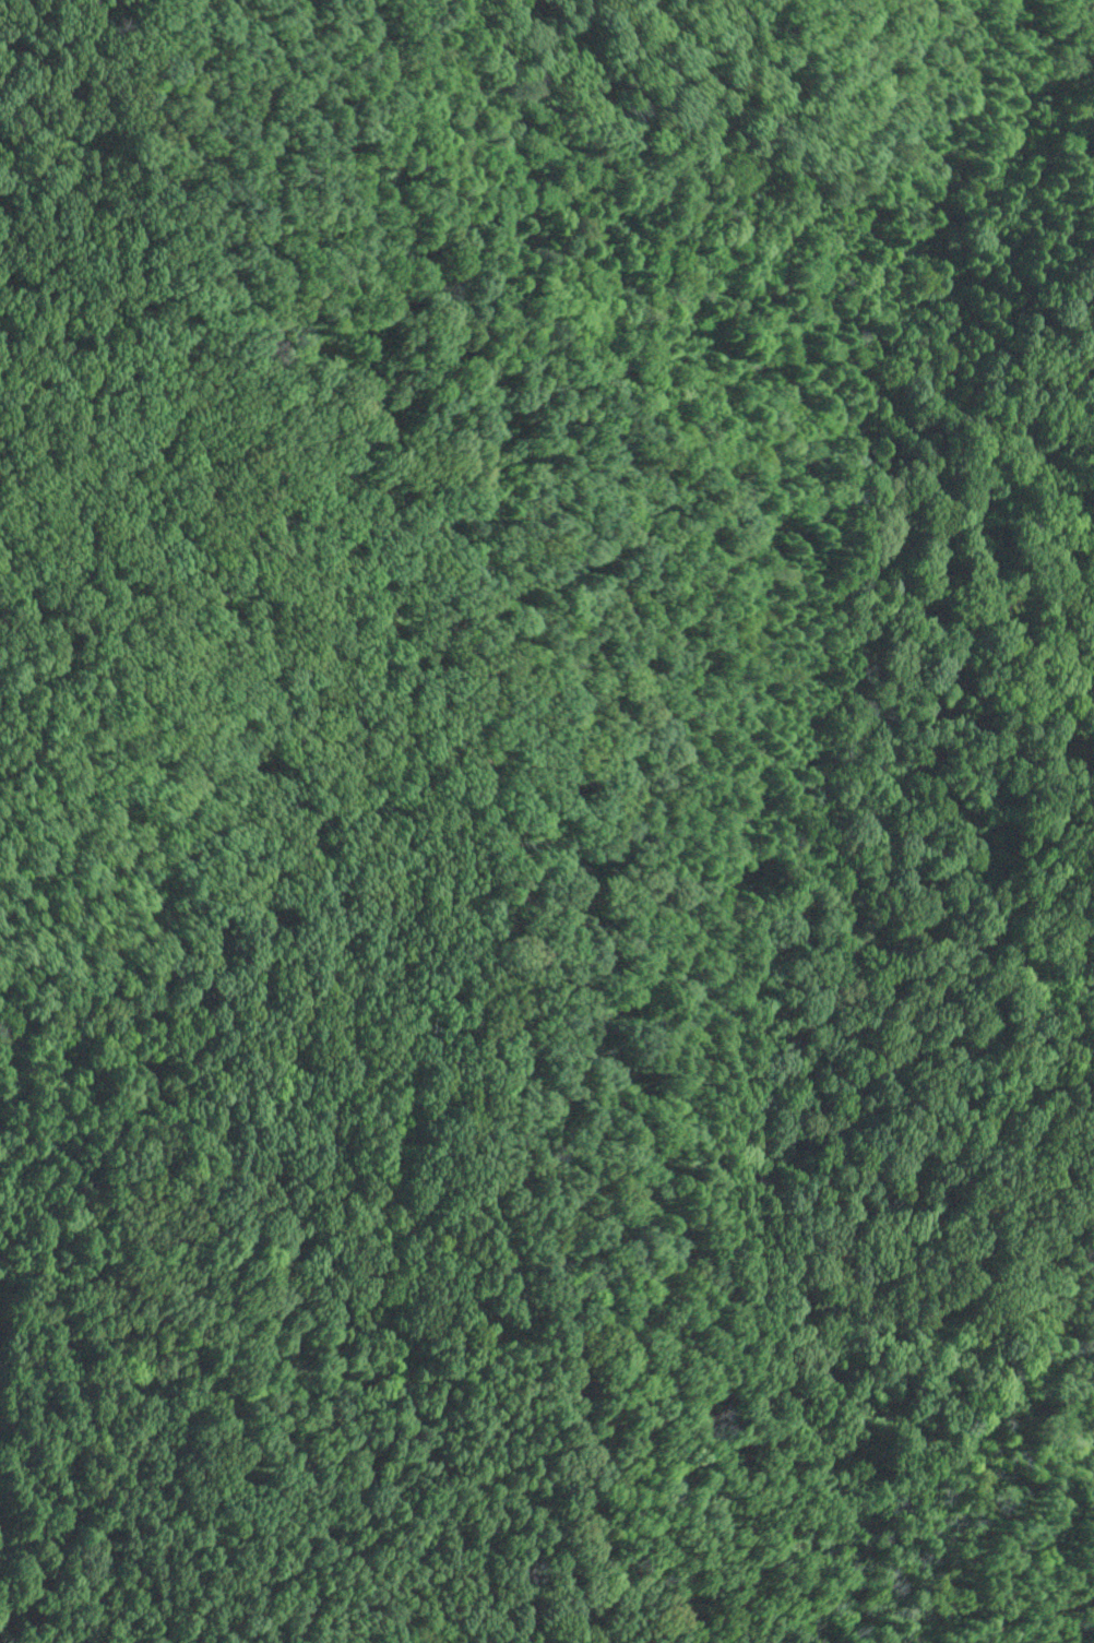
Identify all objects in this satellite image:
road: (1048, 118)

